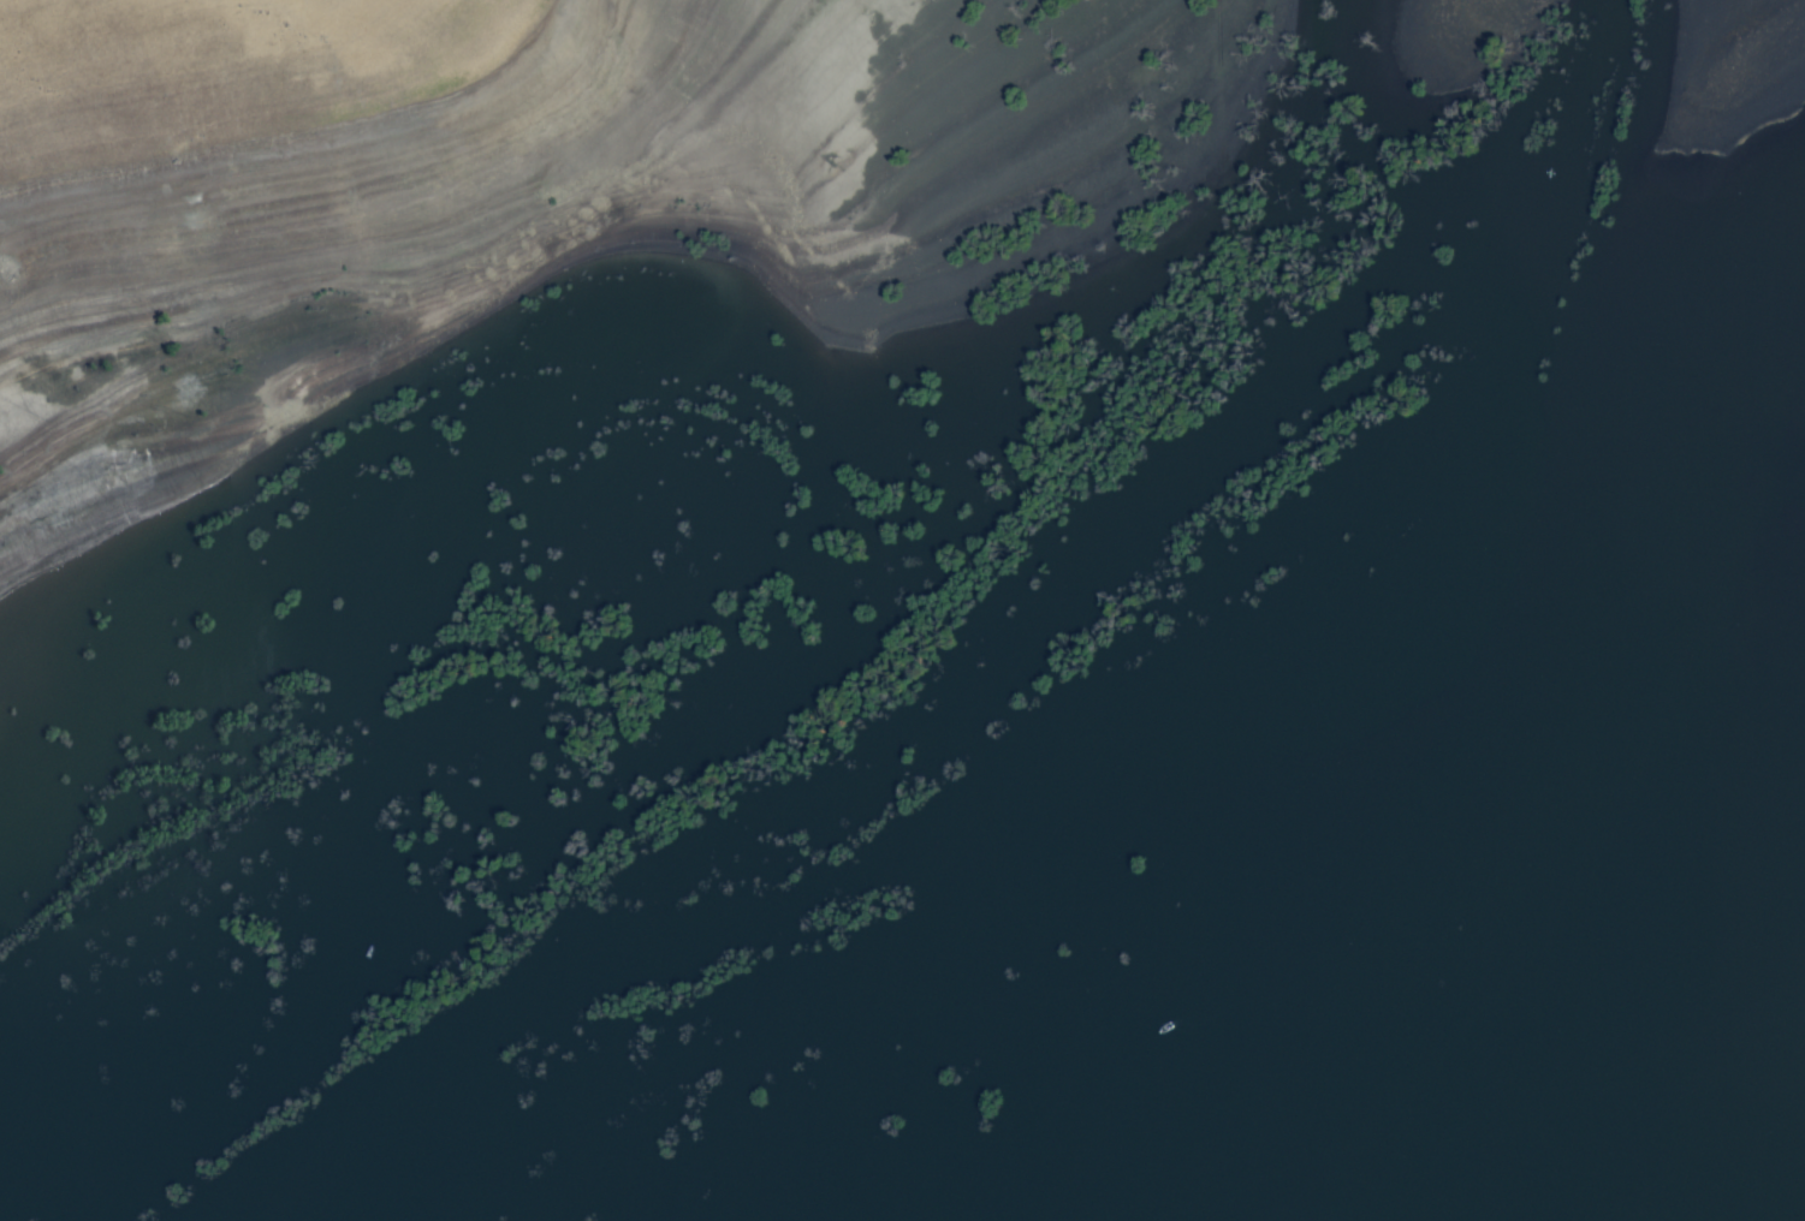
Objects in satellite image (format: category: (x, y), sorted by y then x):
river: (1085, 729)

